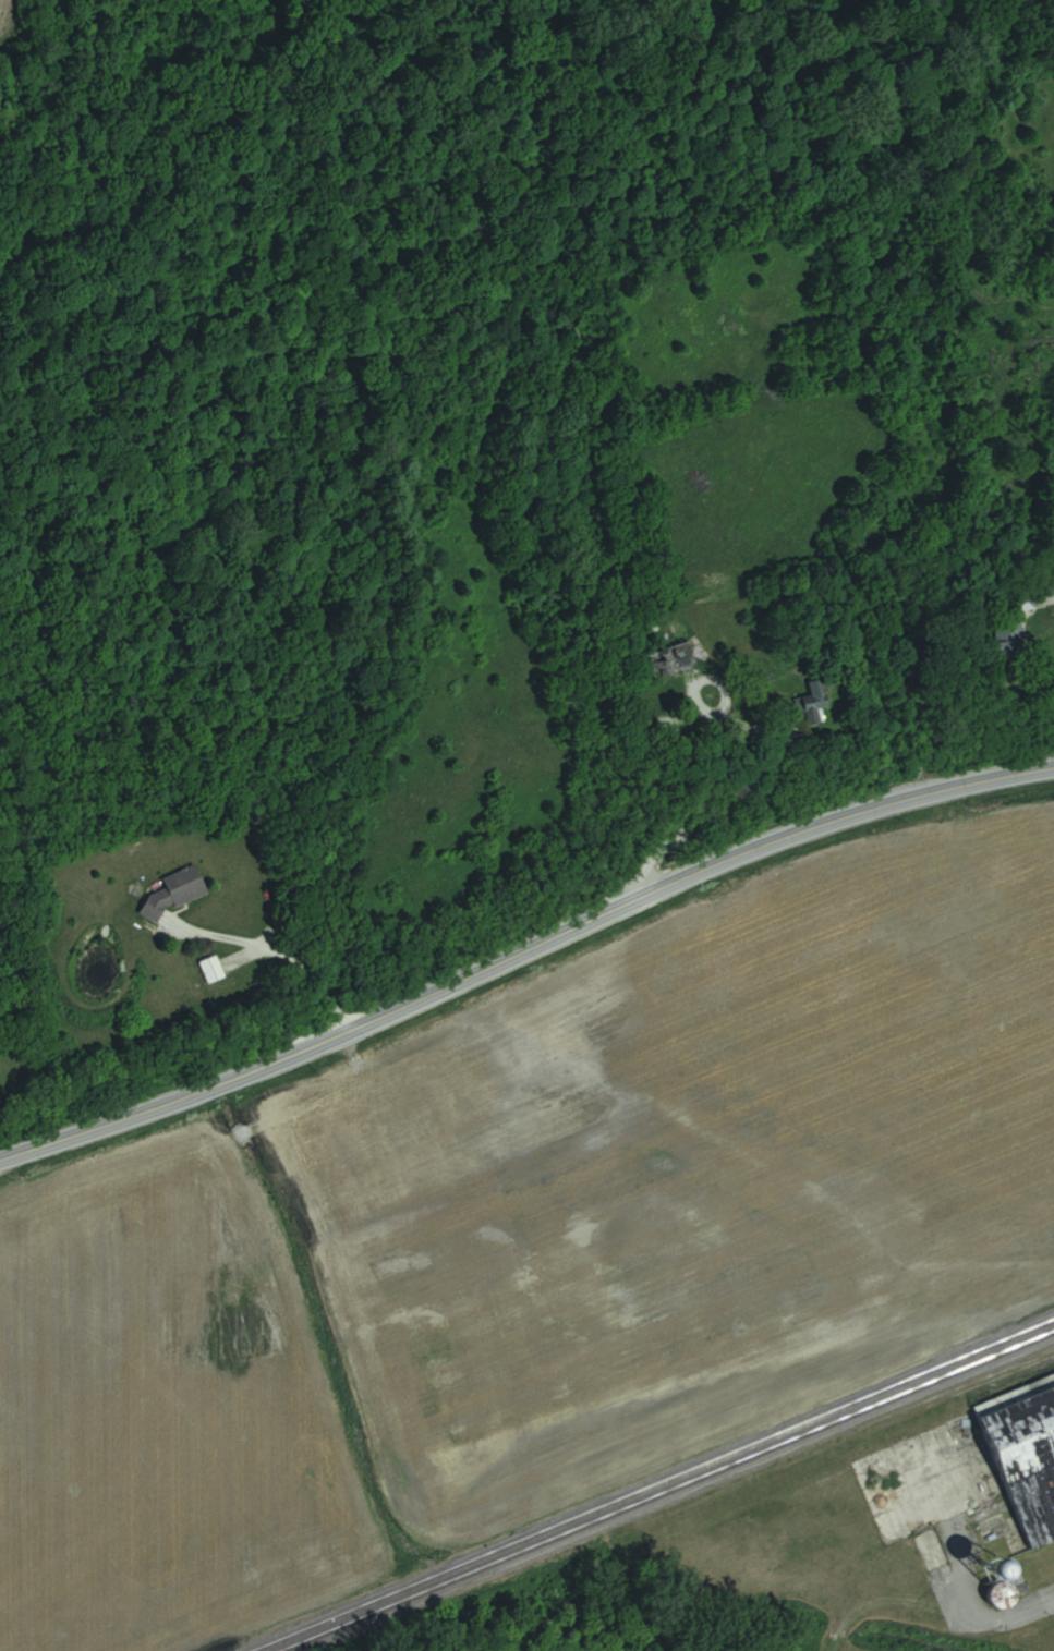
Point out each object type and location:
road: (1047, 584)
road: (808, 715)
building: (181, 893)
road: (286, 938)
road: (522, 944)
building: (1042, 1382)
railway: (652, 1483)
railway: (668, 1493)
water tower: (991, 1574)

